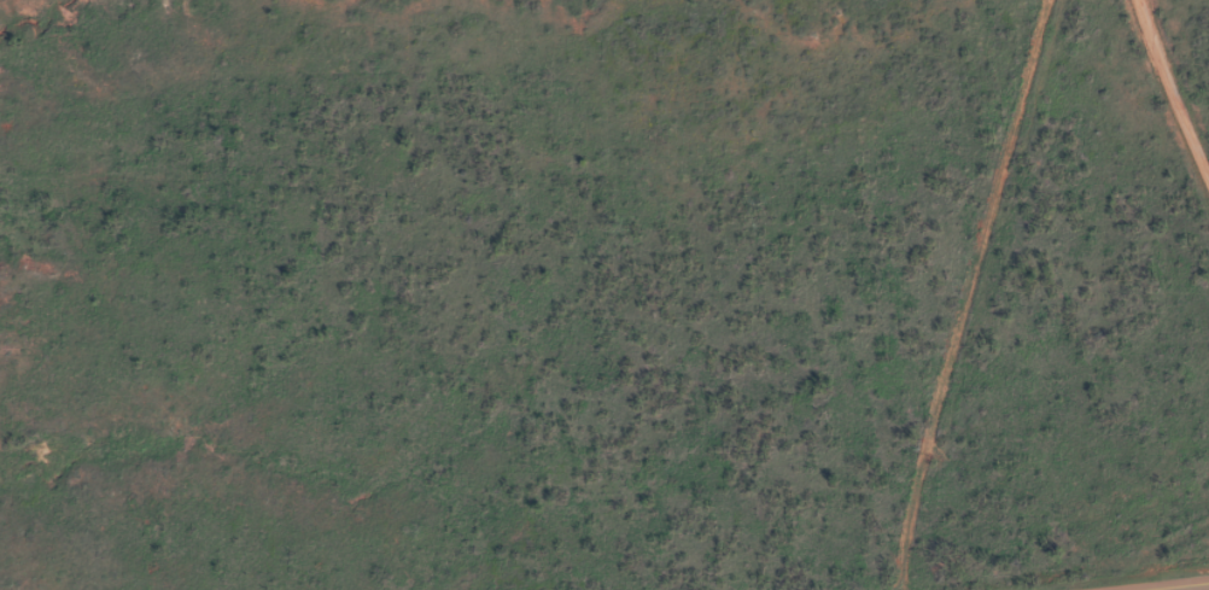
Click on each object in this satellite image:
road: (1137, 165)
road: (1174, 585)

